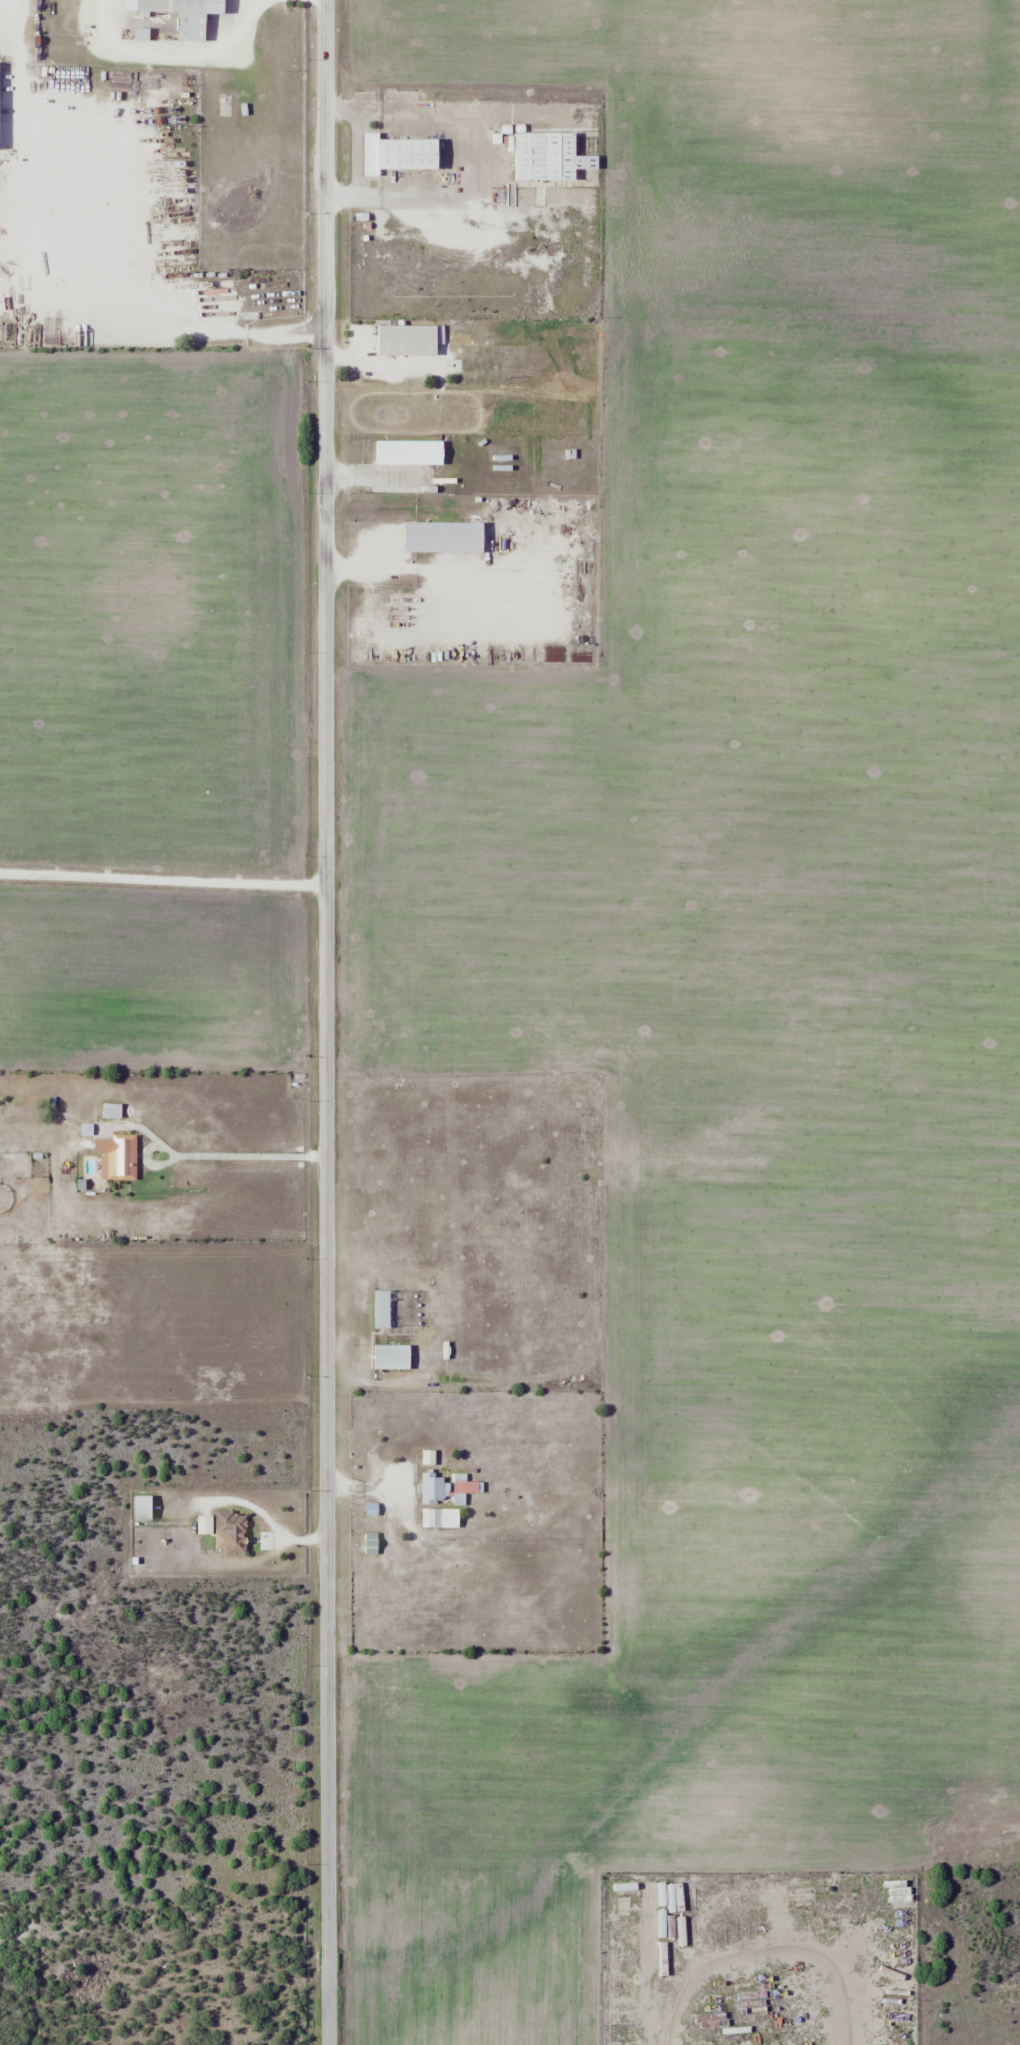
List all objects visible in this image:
building: (181, 15)
building: (397, 155)
building: (551, 158)
building: (407, 340)
building: (409, 452)
road: (327, 1022)
building: (118, 1155)
building: (383, 1309)
building: (392, 1357)
building: (428, 1457)
building: (432, 1488)
building: (428, 1518)
road: (269, 1520)
building: (232, 1531)
building: (370, 1543)
building: (896, 1996)

